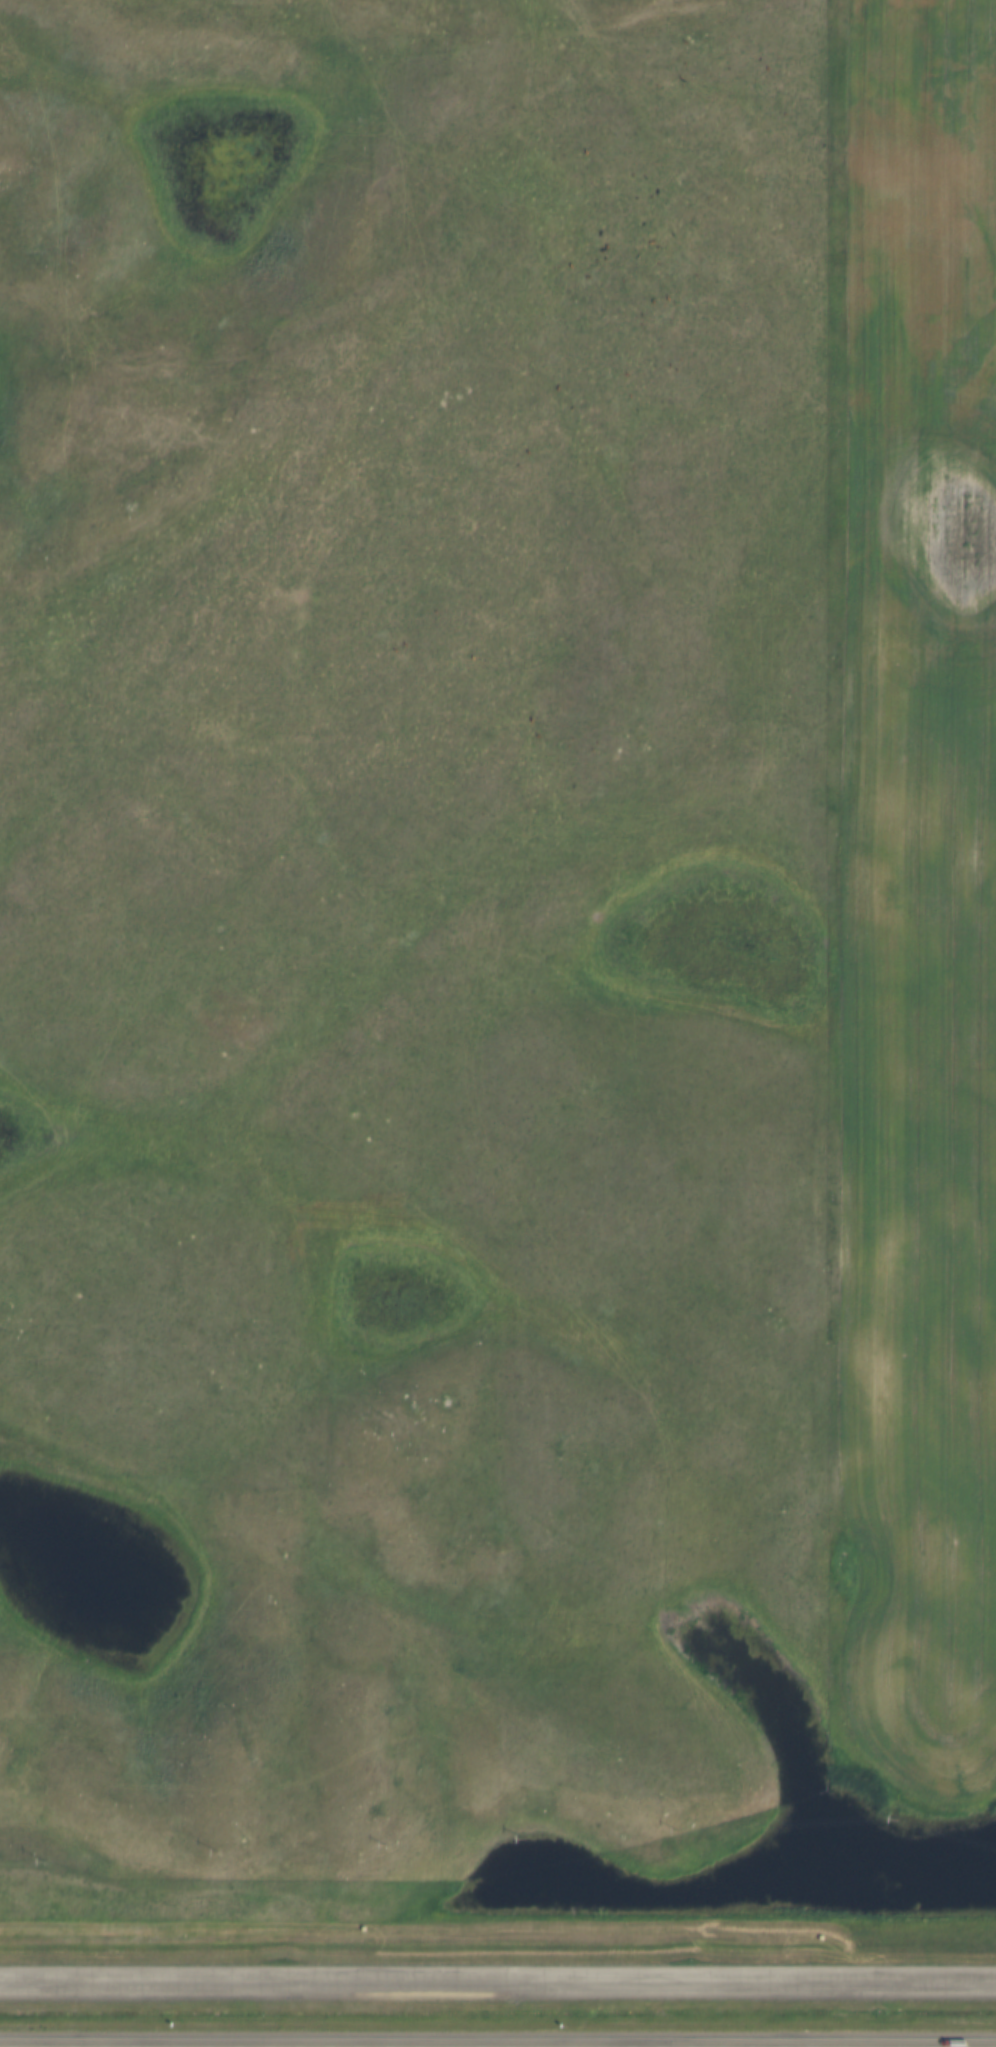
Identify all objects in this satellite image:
road: (497, 1983)
road: (141, 2046)
road: (796, 2046)

